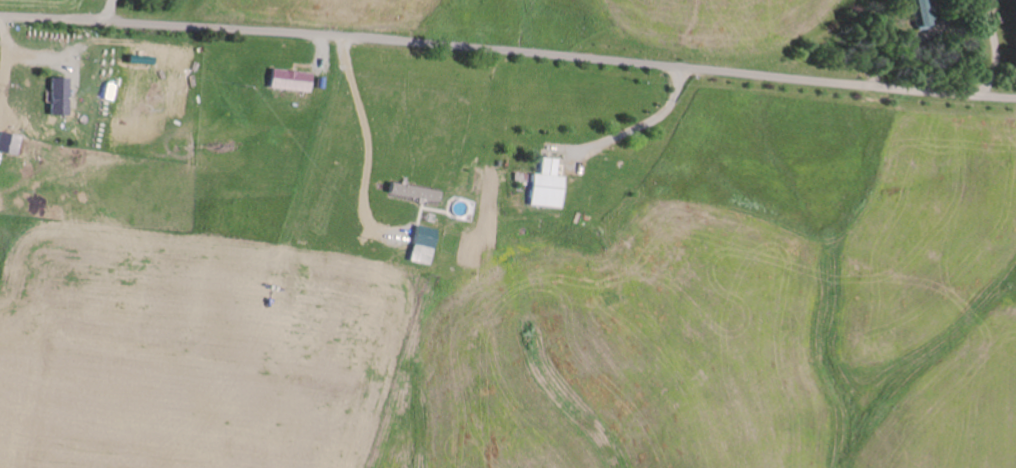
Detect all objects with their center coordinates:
building: (926, 10)
road: (508, 50)
building: (291, 79)
building: (61, 95)
building: (9, 142)
building: (545, 184)
building: (413, 191)
building: (421, 244)

